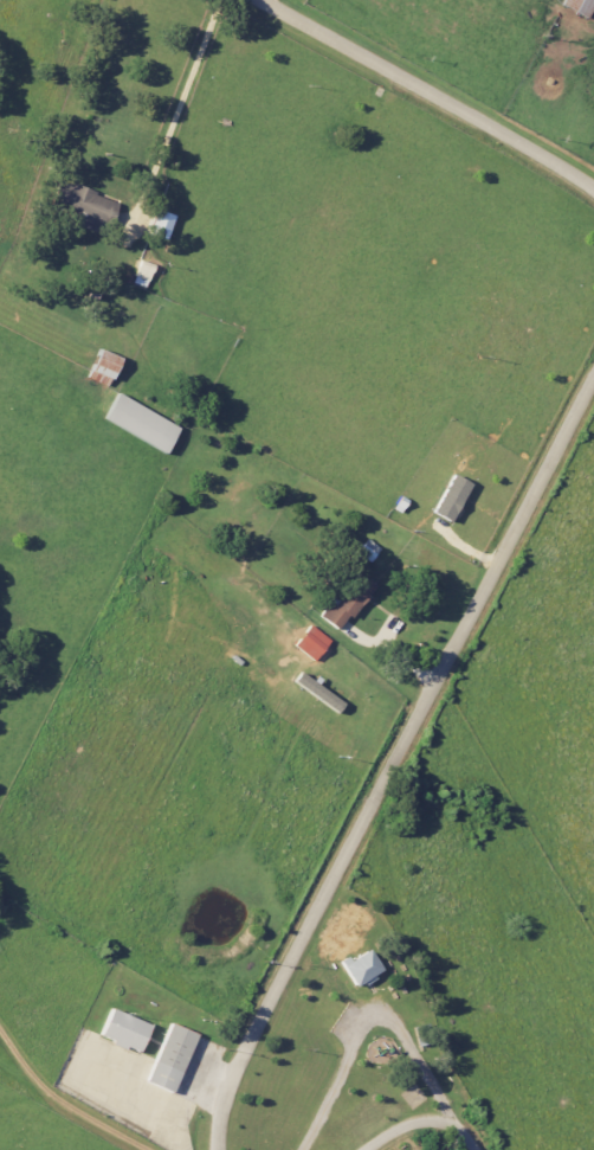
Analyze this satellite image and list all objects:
building: (579, 6)
road: (426, 91)
road: (174, 110)
building: (83, 207)
building: (160, 225)
building: (102, 367)
building: (140, 423)
building: (450, 497)
building: (366, 550)
building: (346, 598)
building: (310, 642)
building: (317, 692)
road: (394, 760)
building: (359, 968)
road: (375, 1022)
building: (122, 1030)
building: (167, 1058)
road: (63, 1105)
road: (137, 1114)
road: (453, 1130)
road: (395, 1133)

